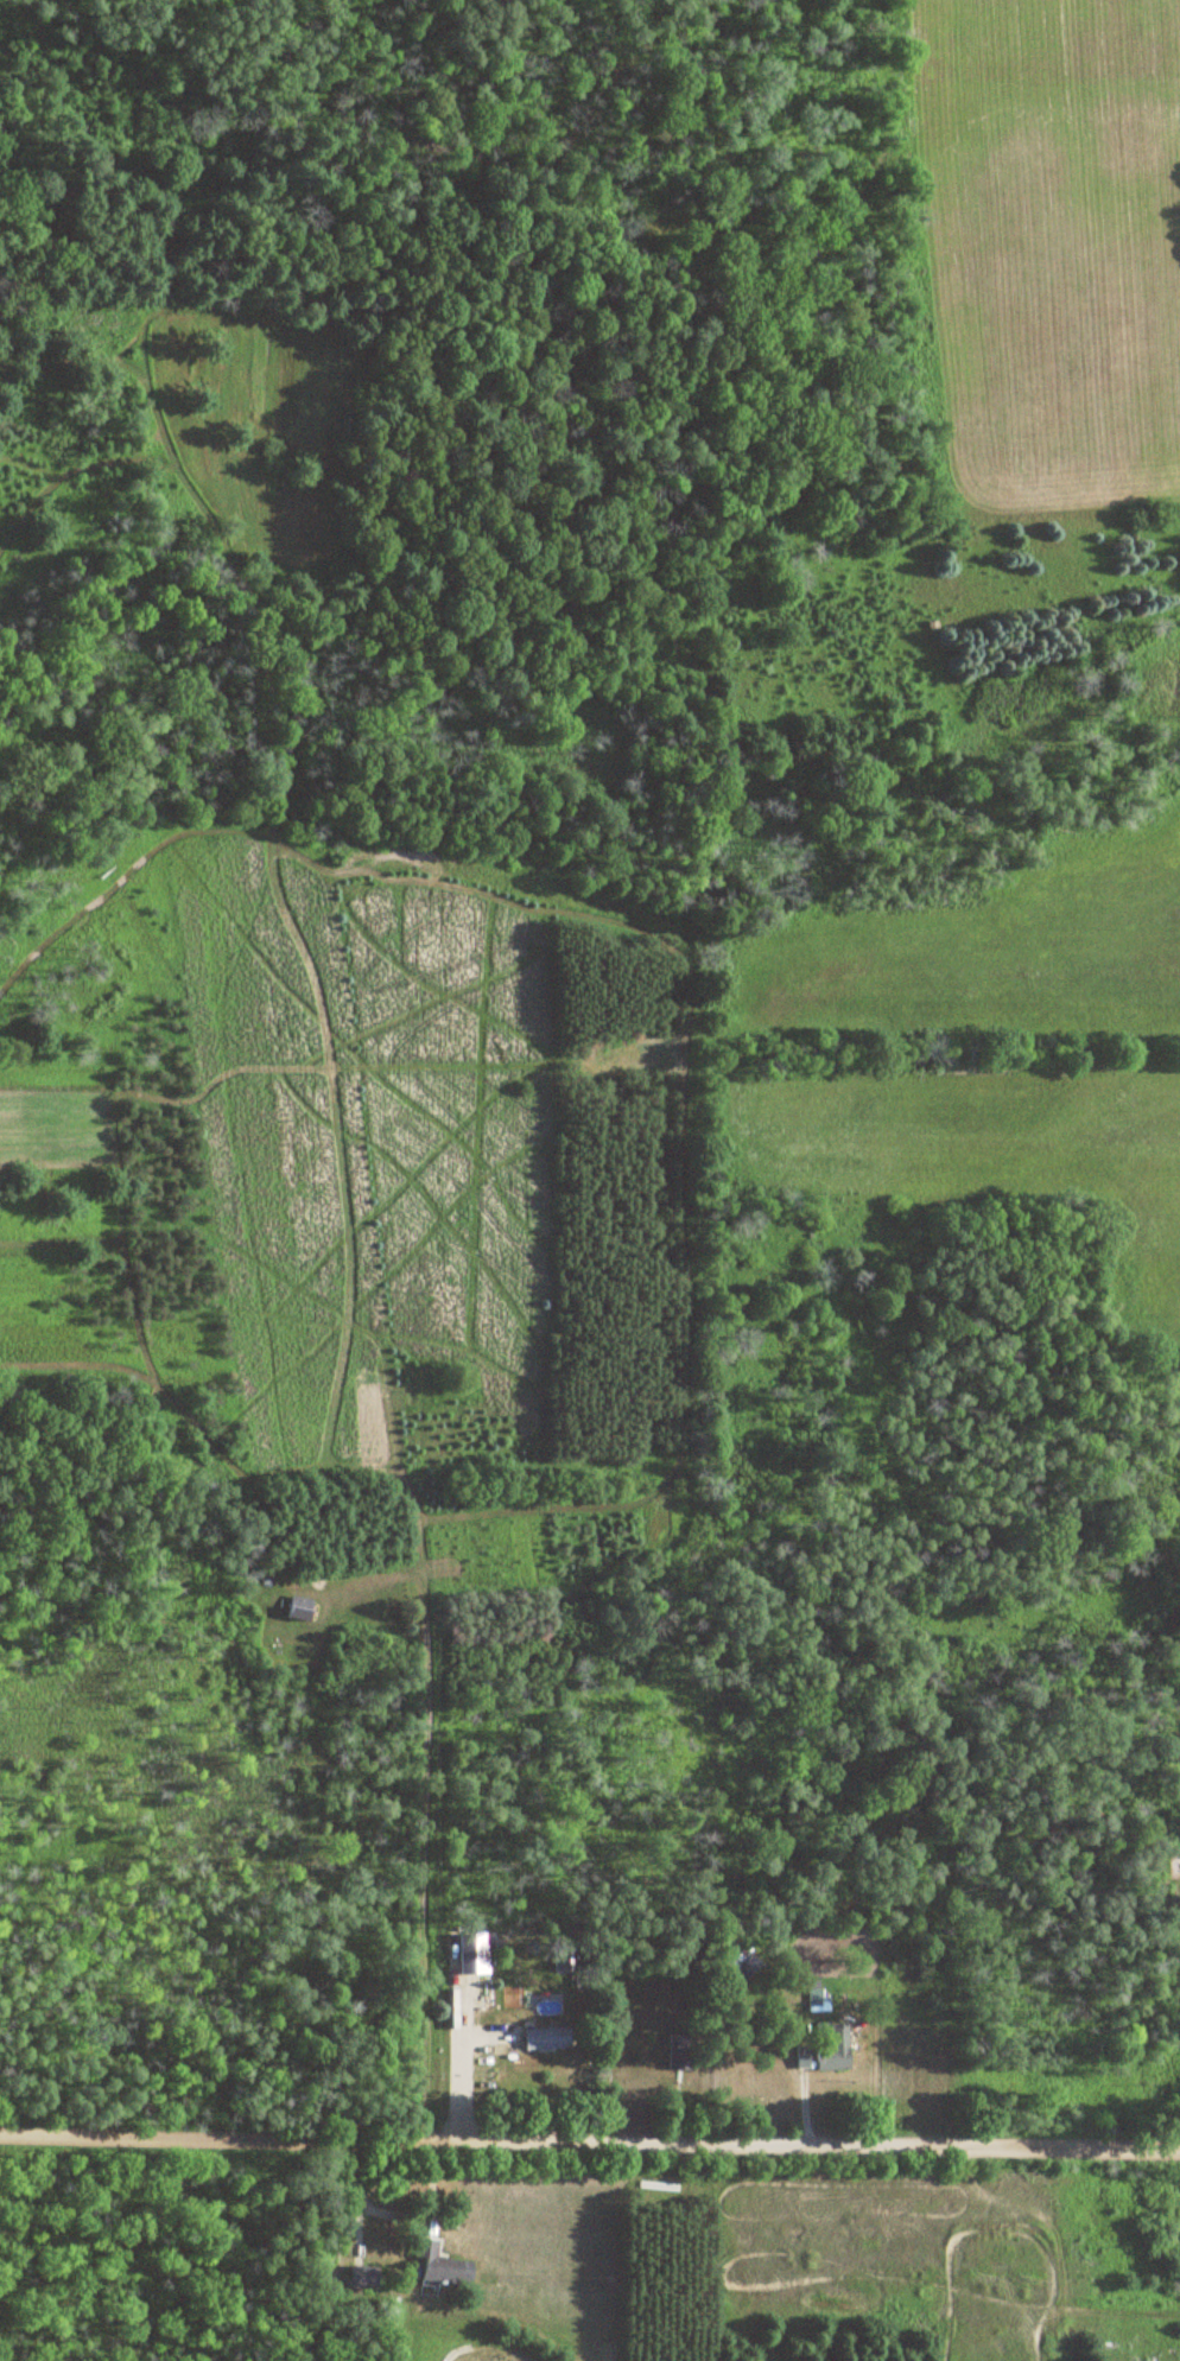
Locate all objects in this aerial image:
building: (1172, 1865)
building: (735, 1959)
road: (590, 2146)
building: (434, 2267)

